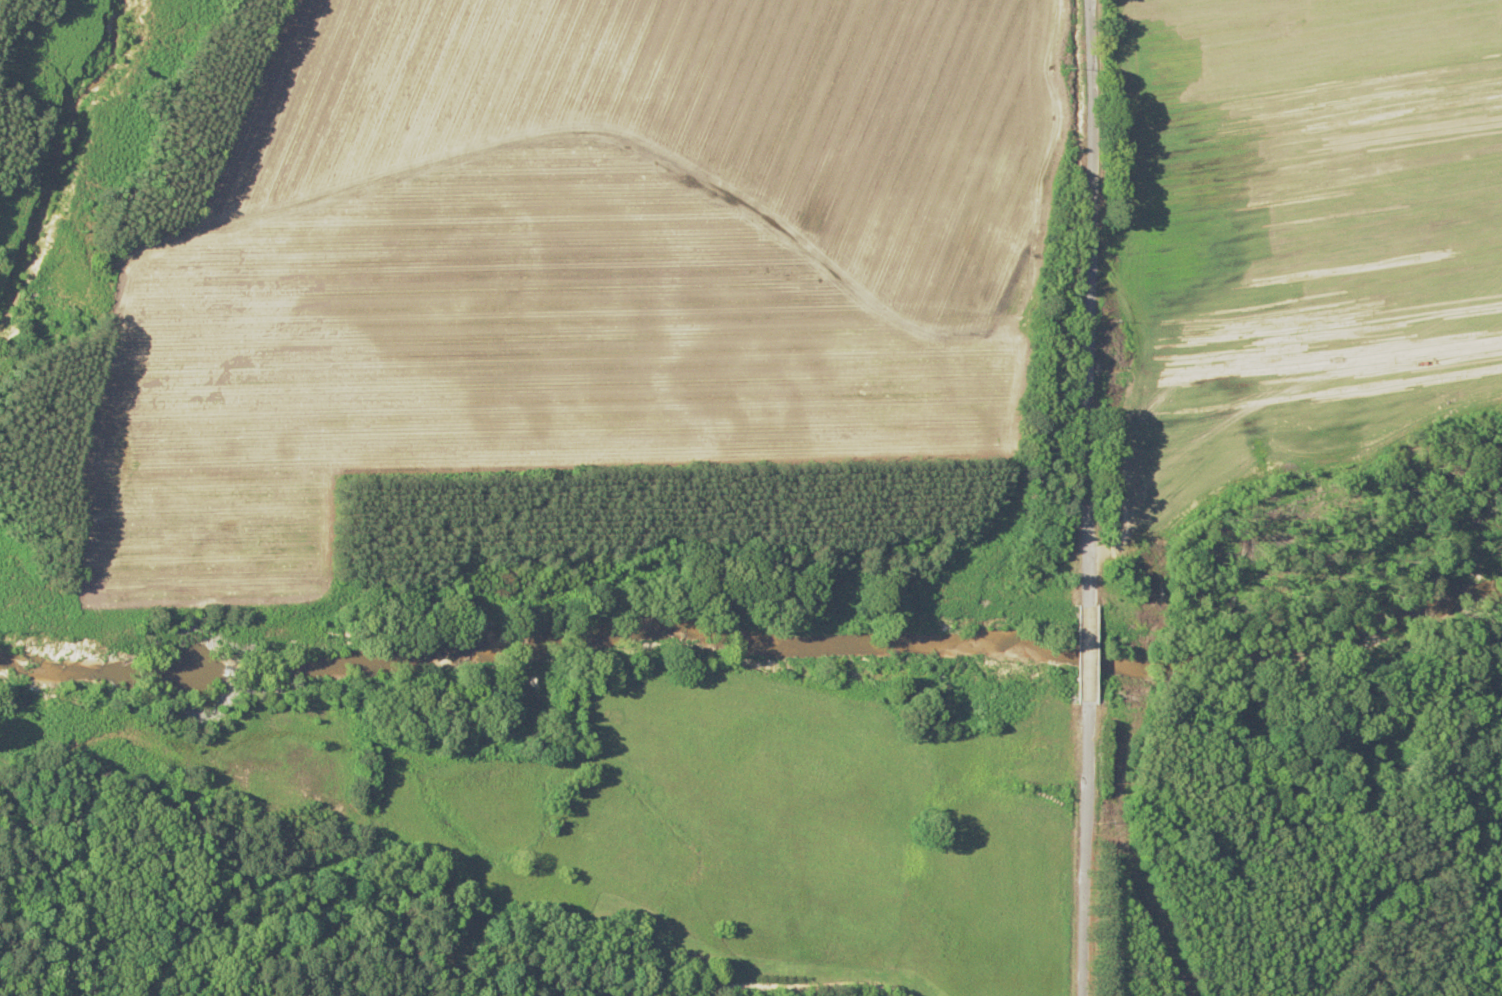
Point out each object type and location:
road: (1090, 498)
road: (805, 985)

